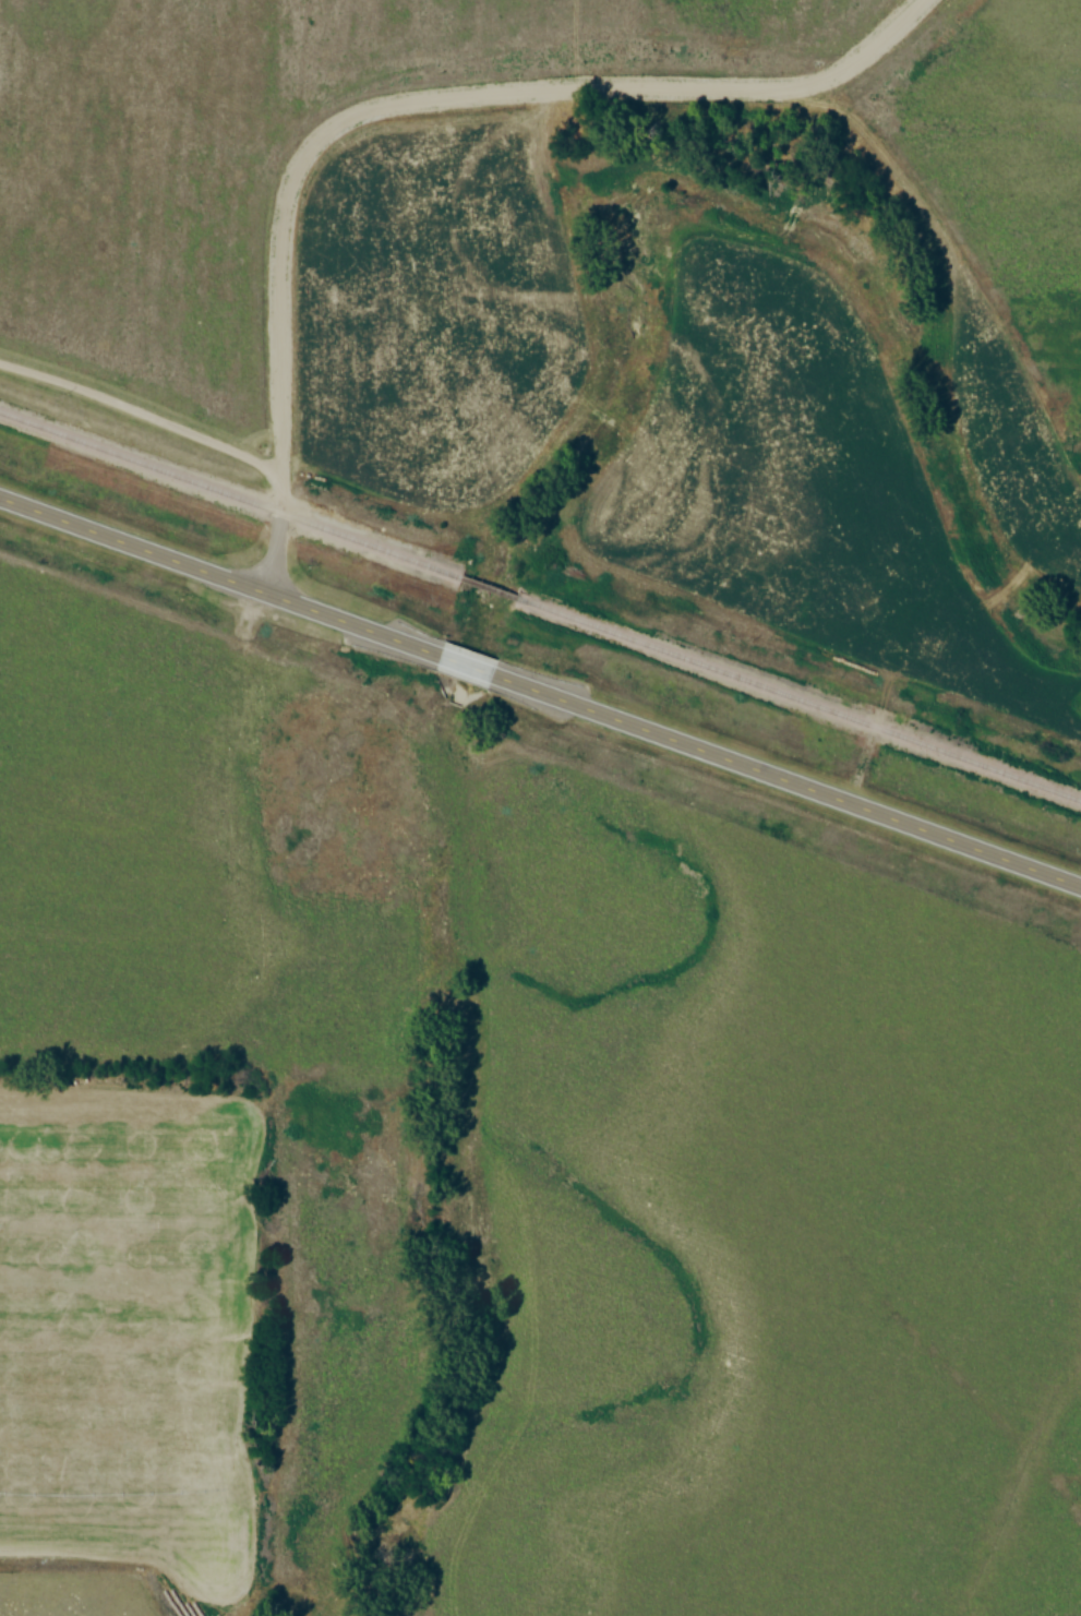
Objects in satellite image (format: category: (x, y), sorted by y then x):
road: (396, 100)
road: (142, 407)
railway: (230, 495)
road: (219, 576)
railway: (491, 588)
road: (467, 666)
railway: (800, 699)
road: (788, 781)

